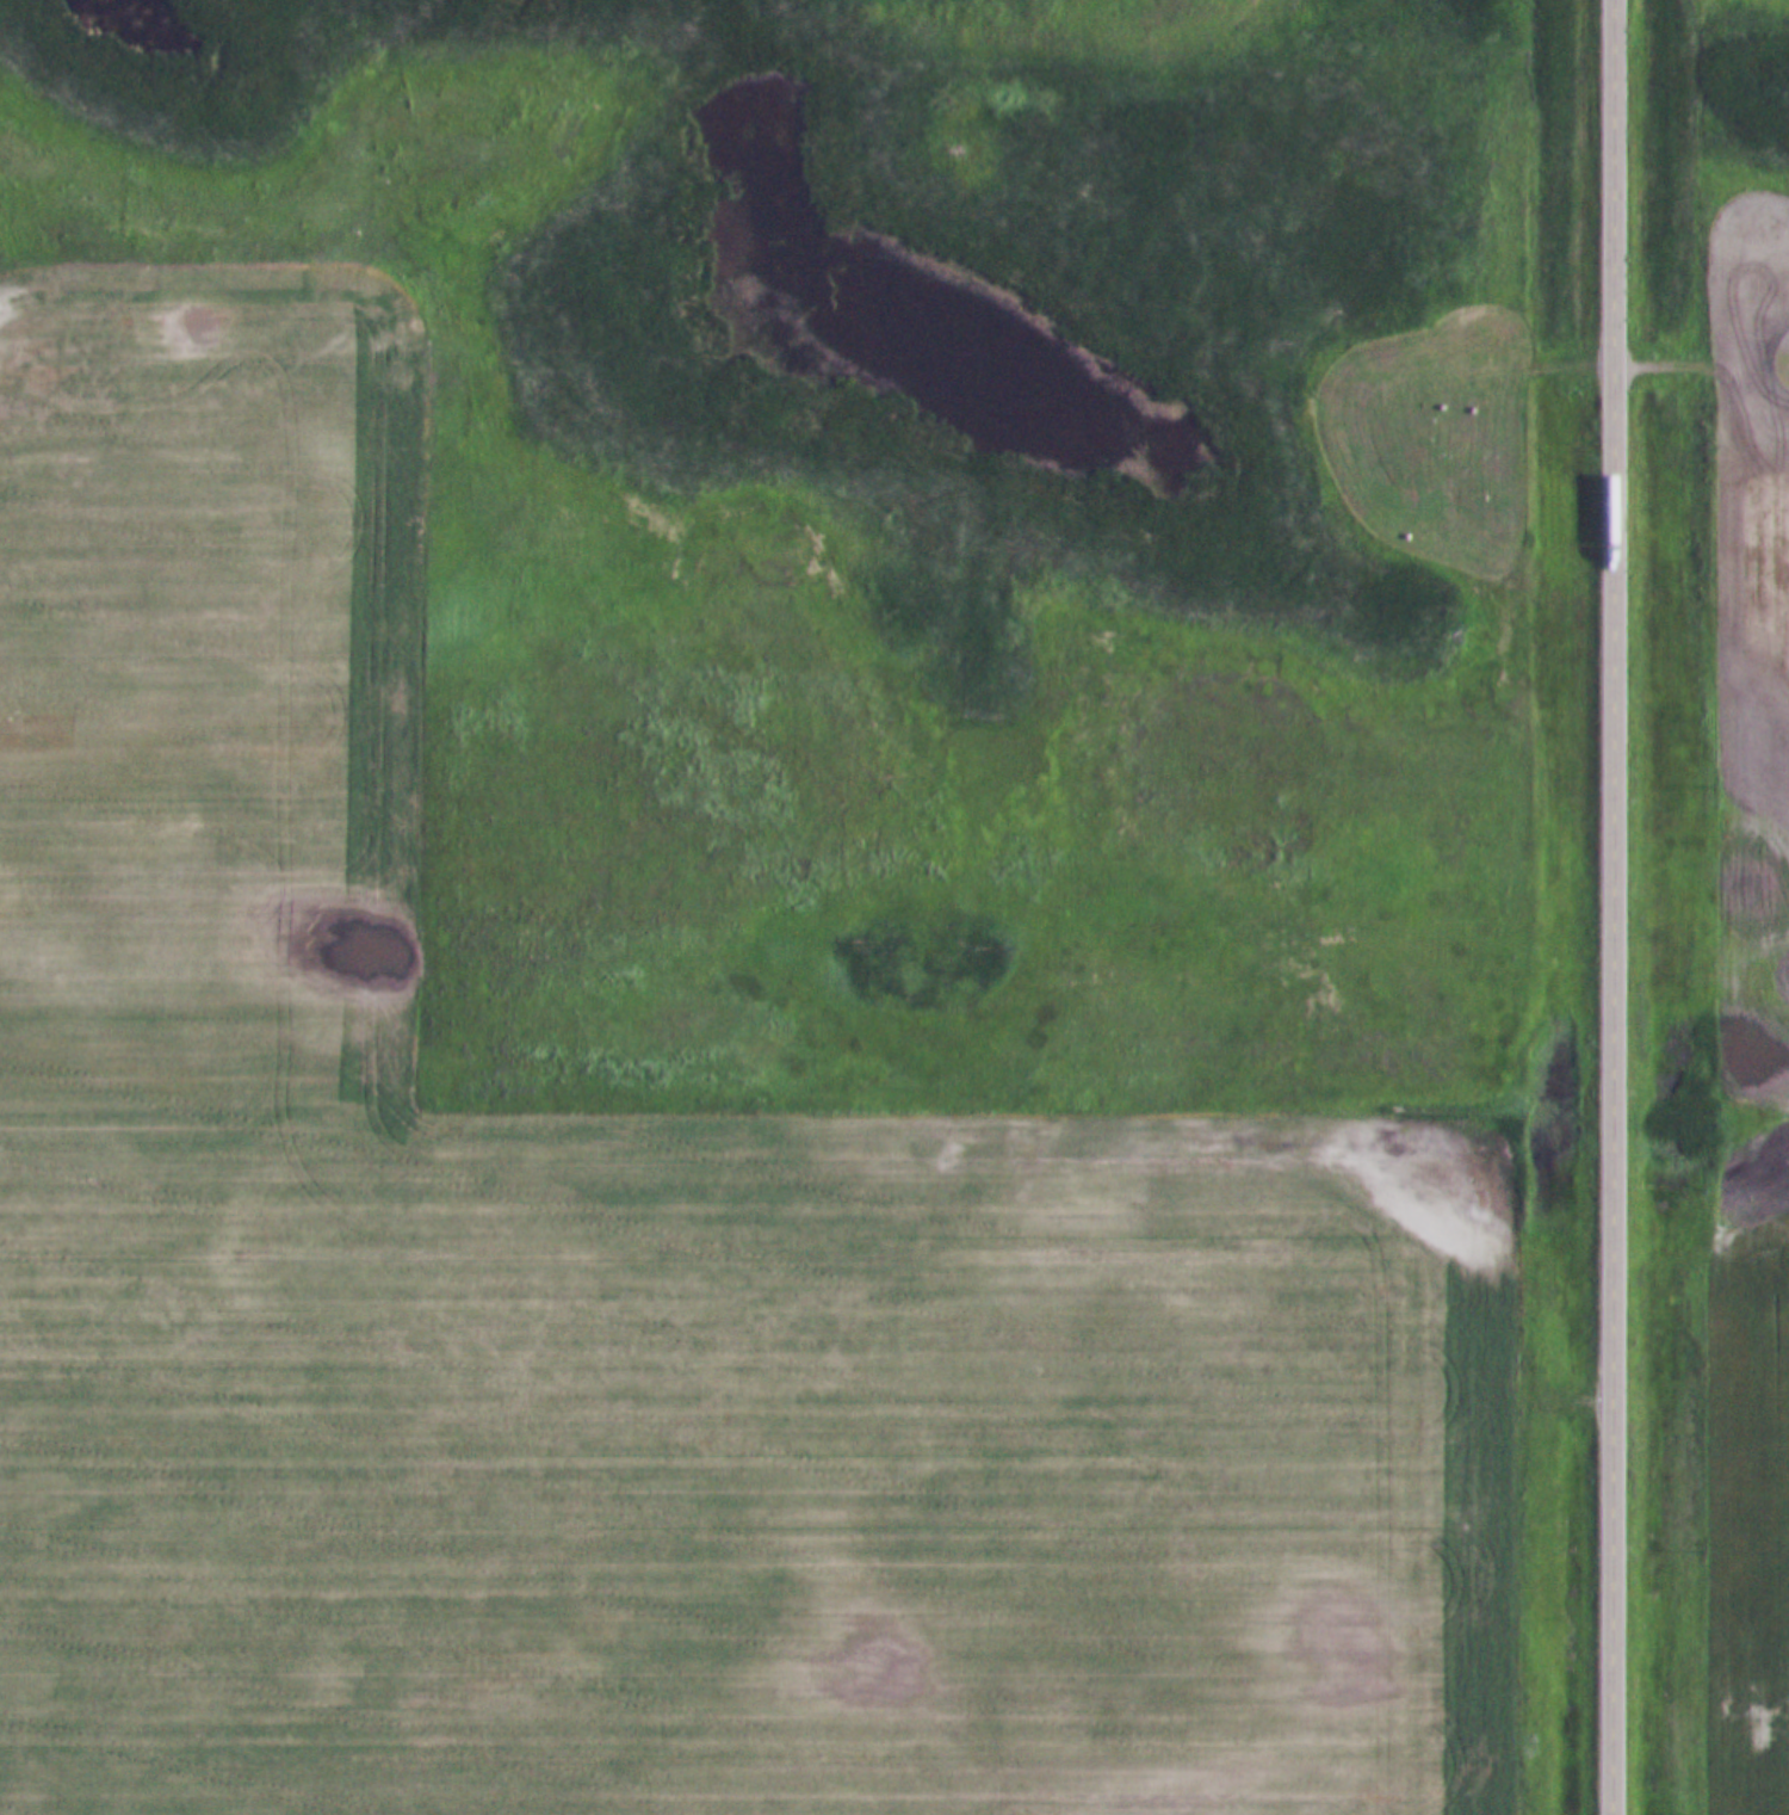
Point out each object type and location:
road: (1608, 907)

